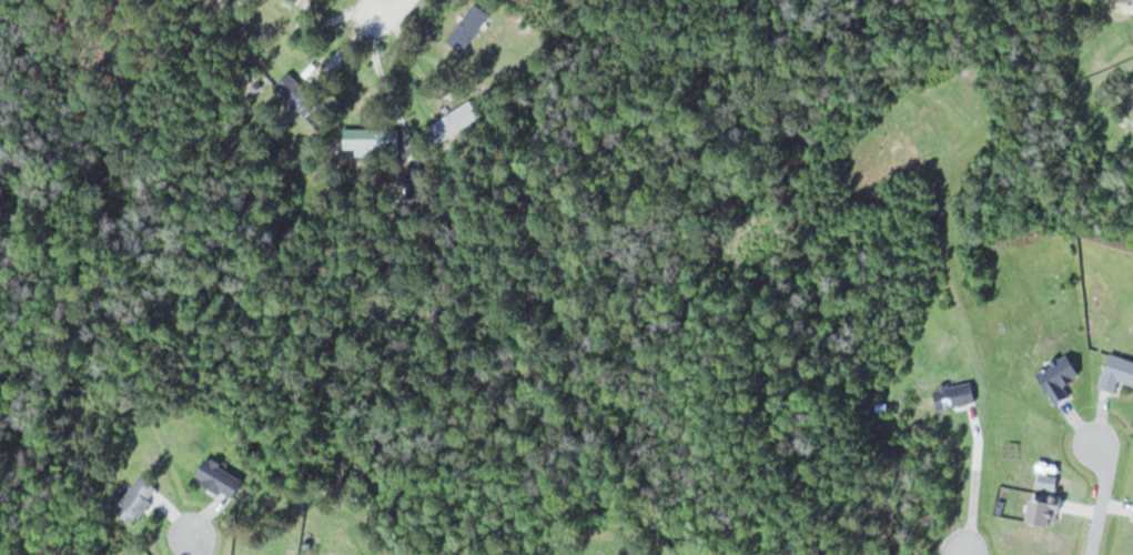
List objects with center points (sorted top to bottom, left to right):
building: (297, 0)
road: (392, 8)
building: (469, 28)
road: (380, 68)
building: (299, 94)
building: (455, 121)
building: (373, 138)
building: (1117, 373)
building: (1060, 377)
building: (955, 396)
building: (221, 476)
road: (1103, 493)
building: (138, 498)
building: (1048, 511)
road: (192, 541)
road: (964, 552)

